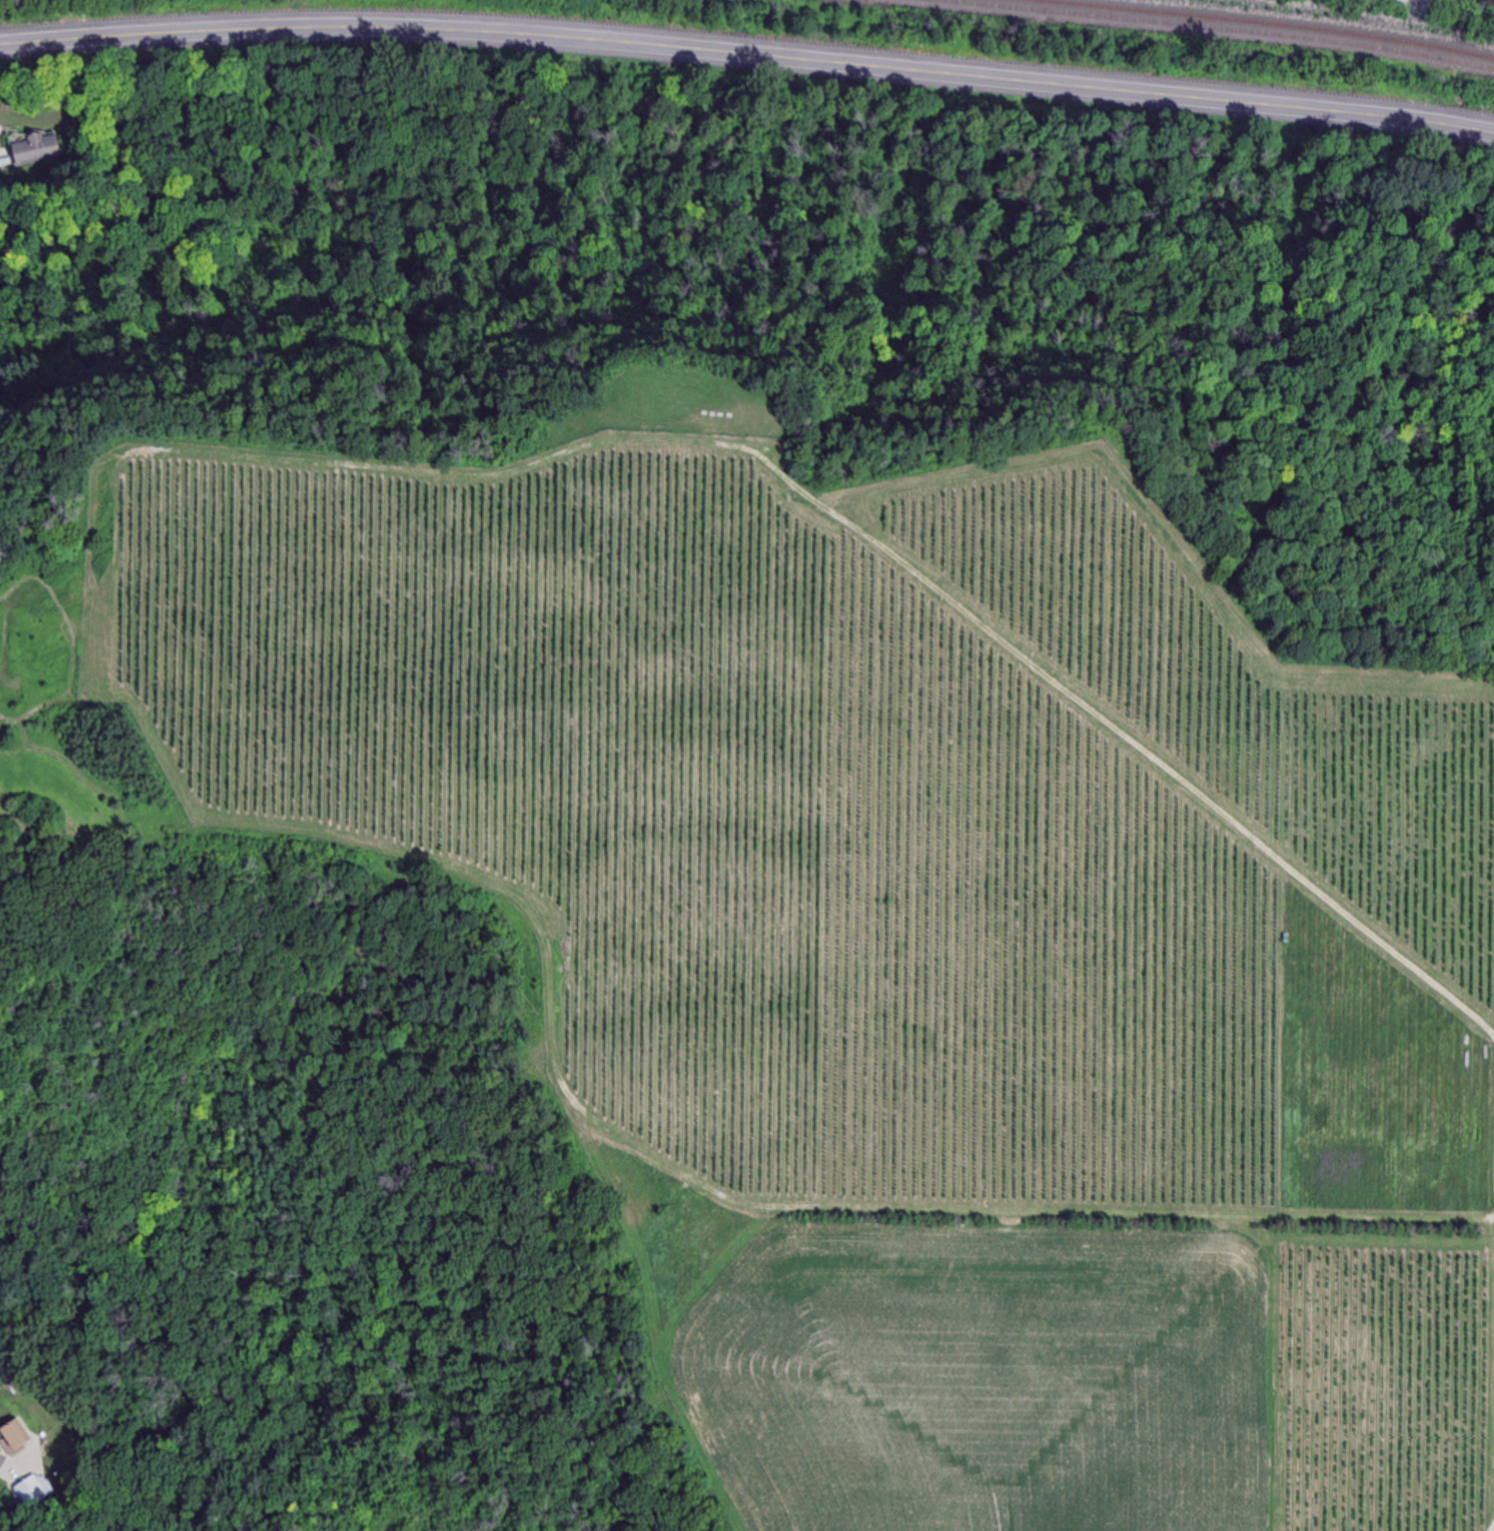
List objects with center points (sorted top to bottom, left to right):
railway: (1262, 23)
railway: (1211, 28)
road: (748, 57)
building: (35, 150)
road: (115, 611)
building: (18, 1437)
road: (19, 1466)
building: (33, 1492)

